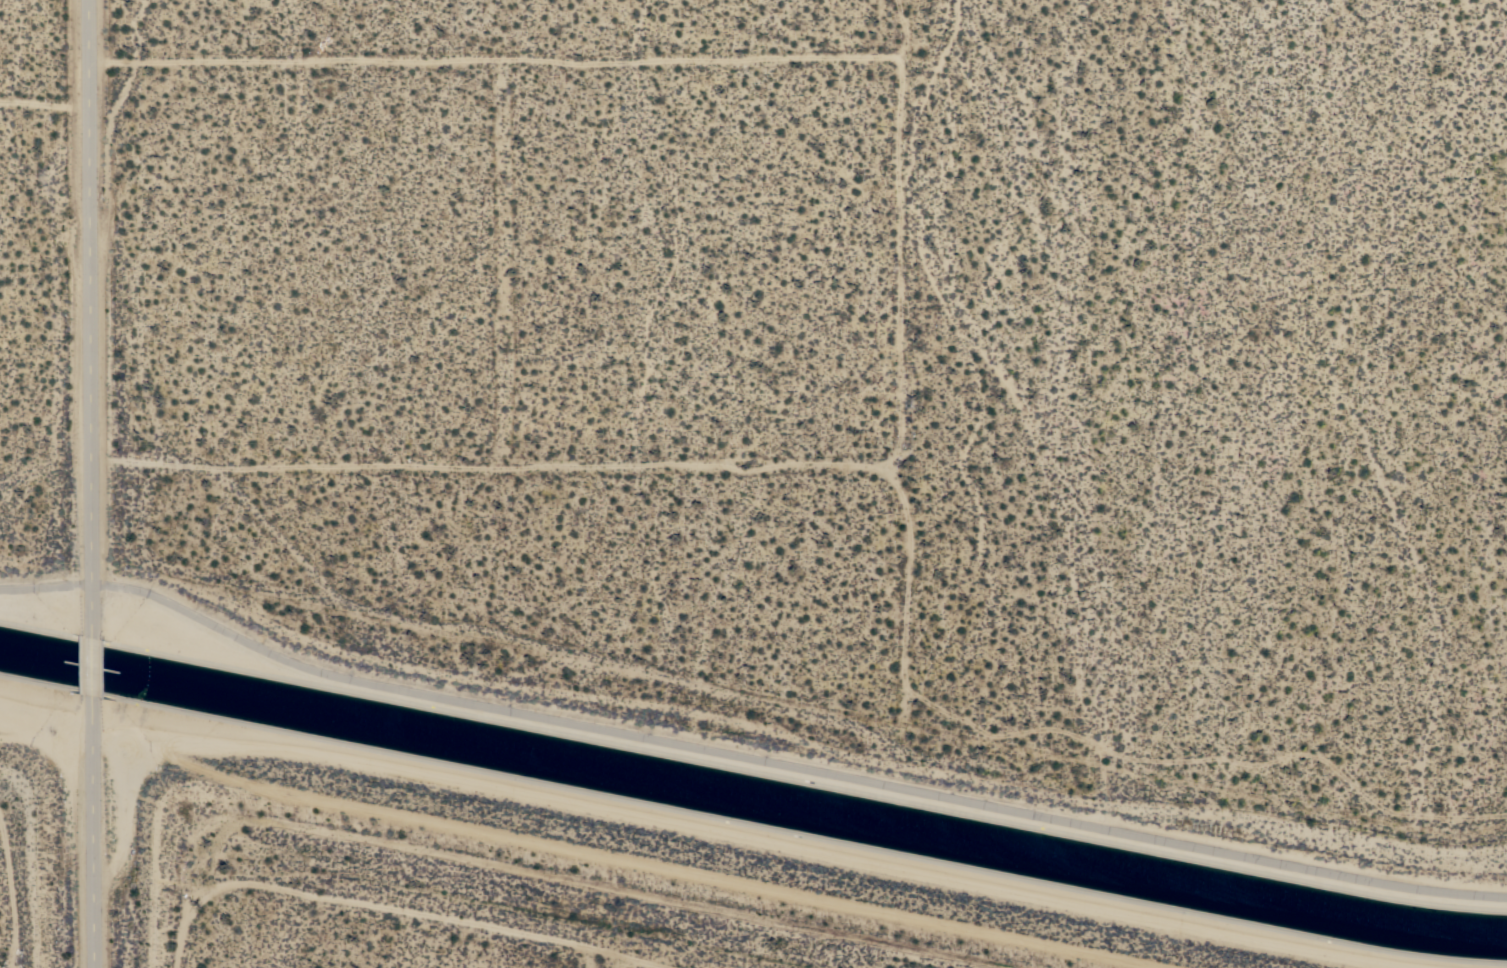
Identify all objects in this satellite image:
road: (90, 318)
road: (92, 666)
road: (91, 832)
road: (413, 914)
road: (598, 955)

